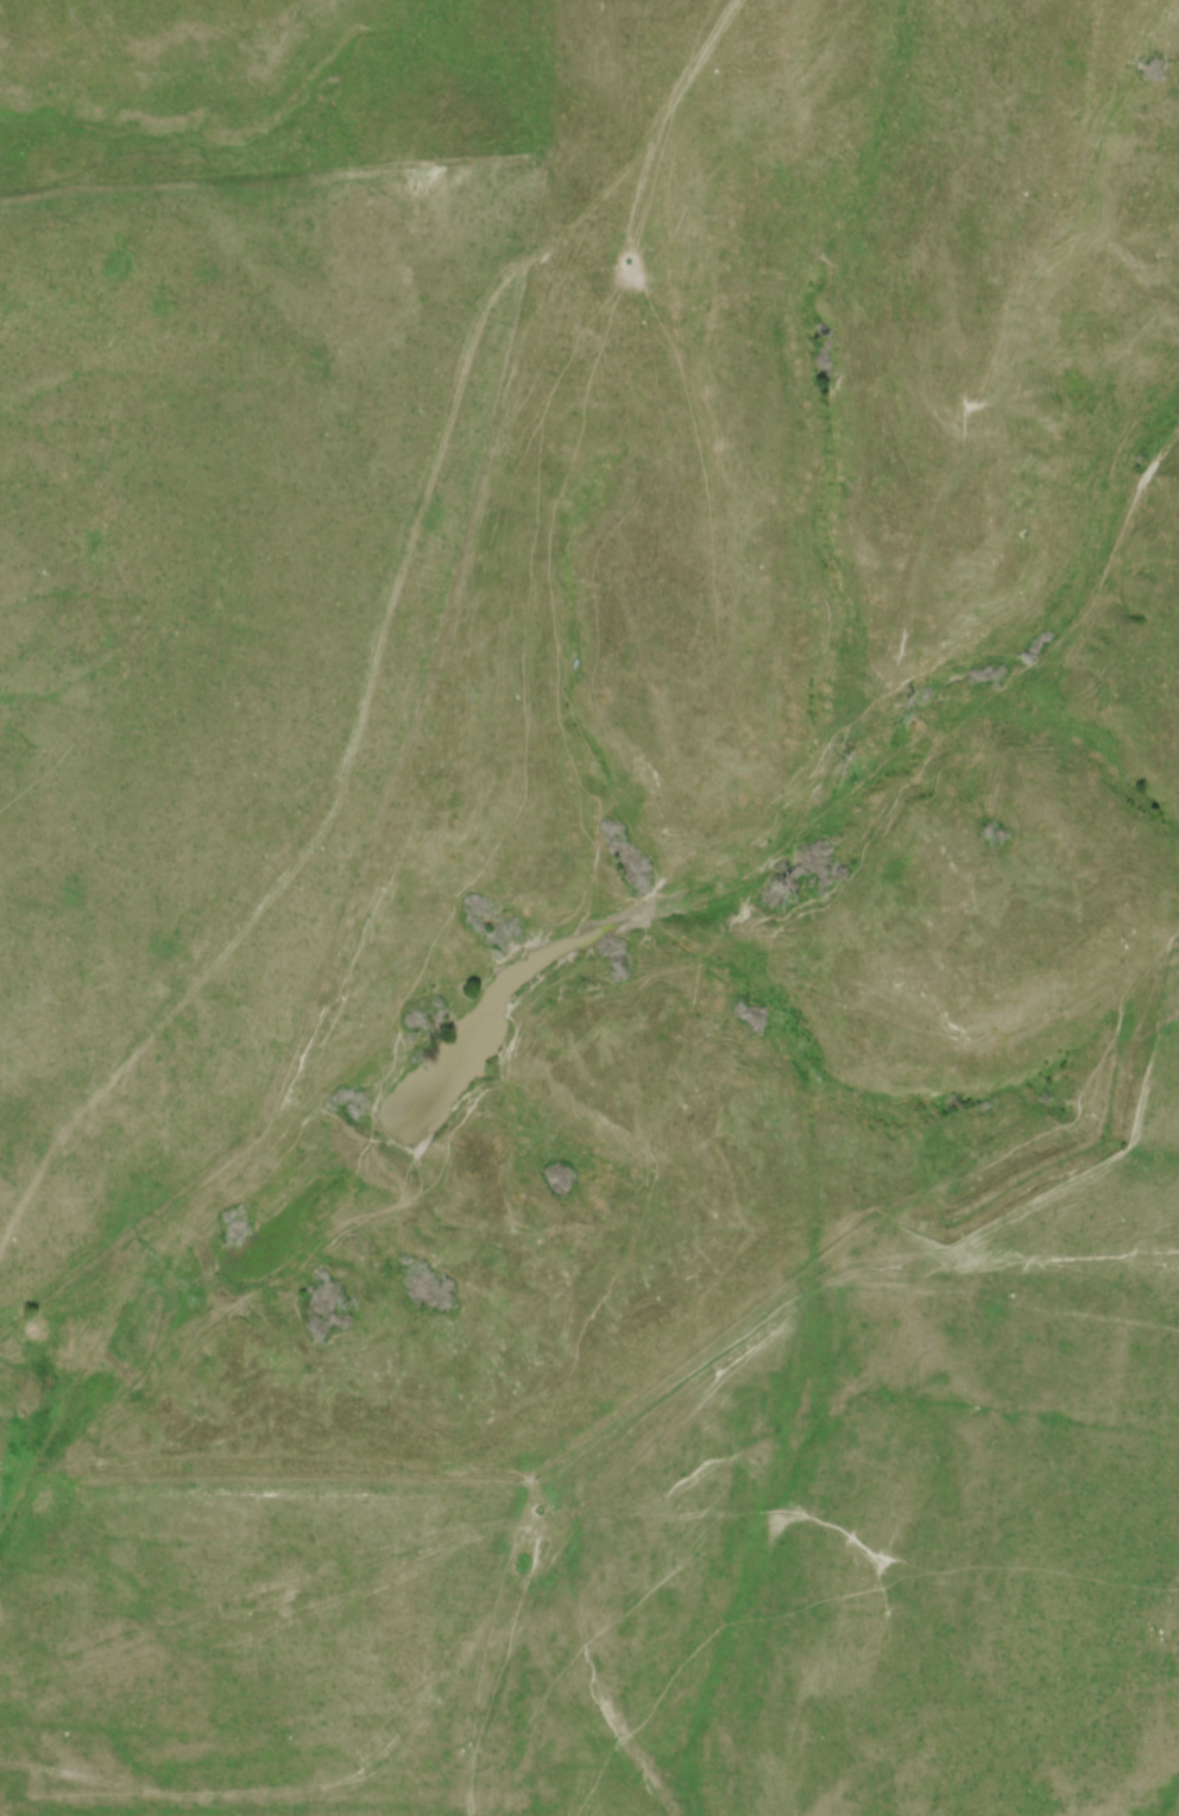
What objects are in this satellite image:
road: (0, 1614)

